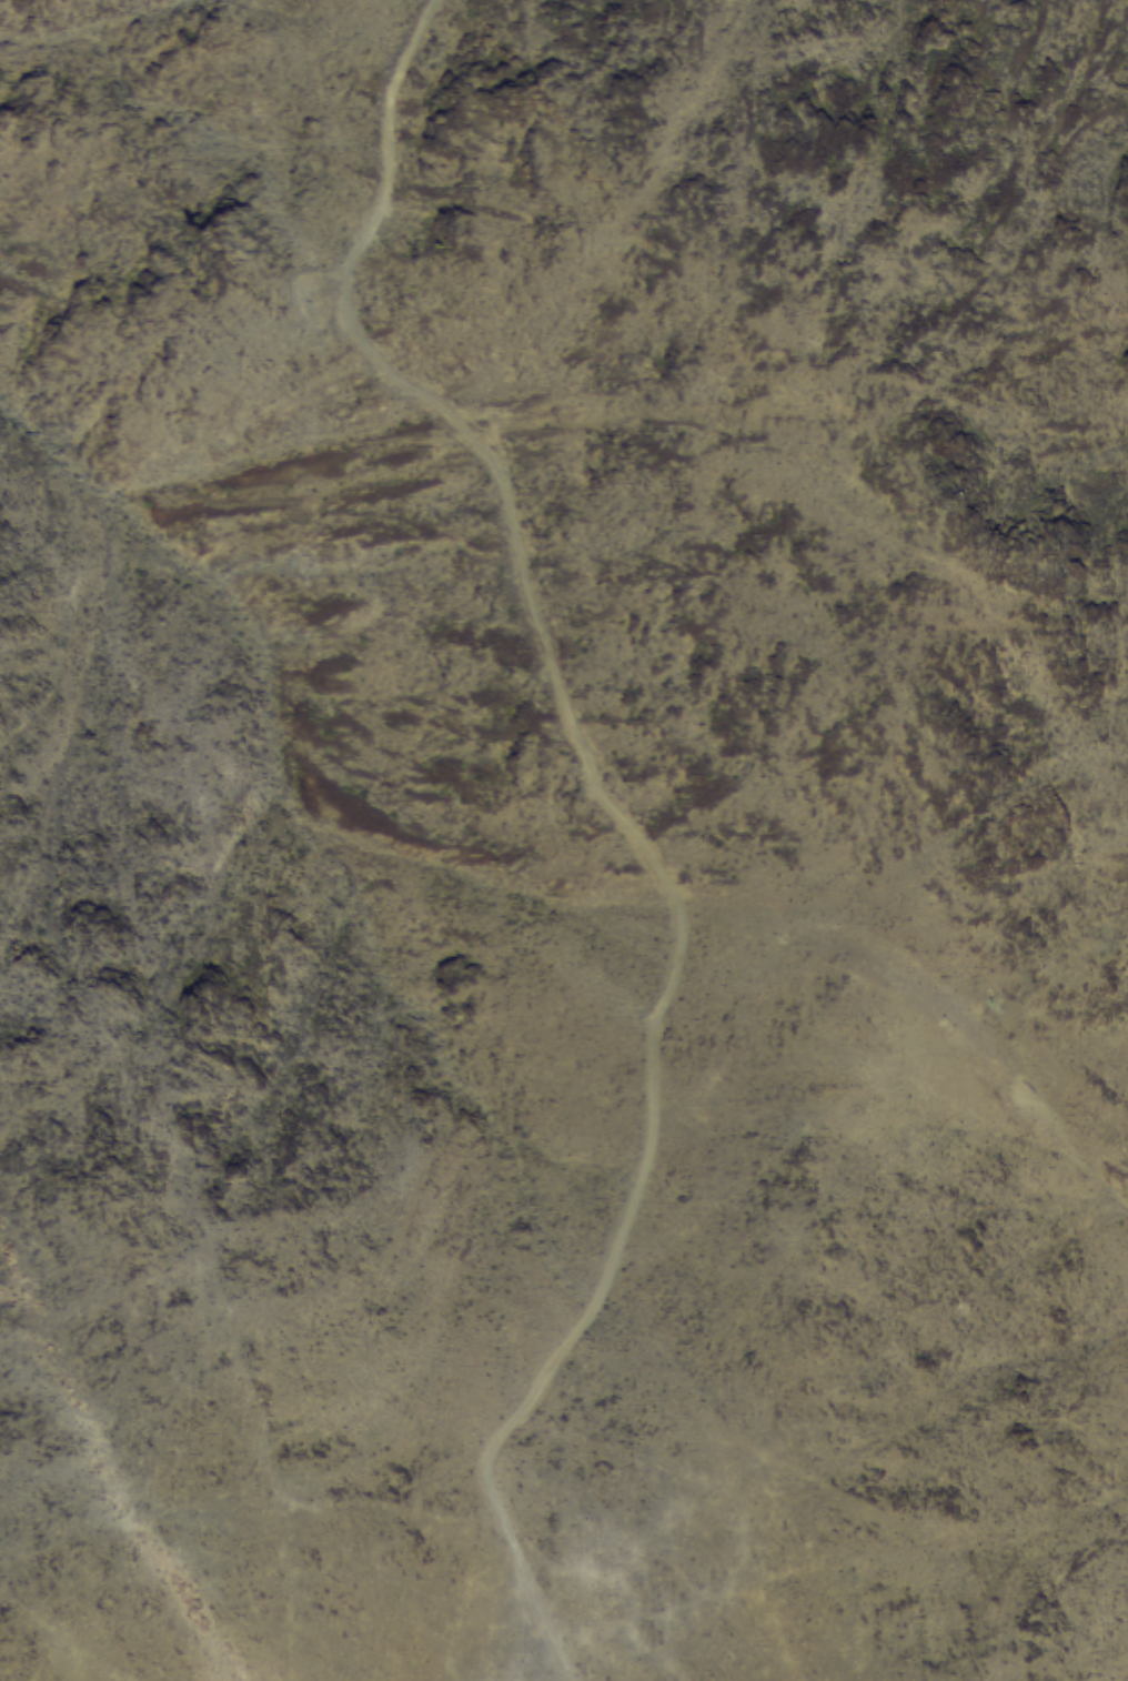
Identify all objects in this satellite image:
road: (342, 314)
road: (636, 1131)

